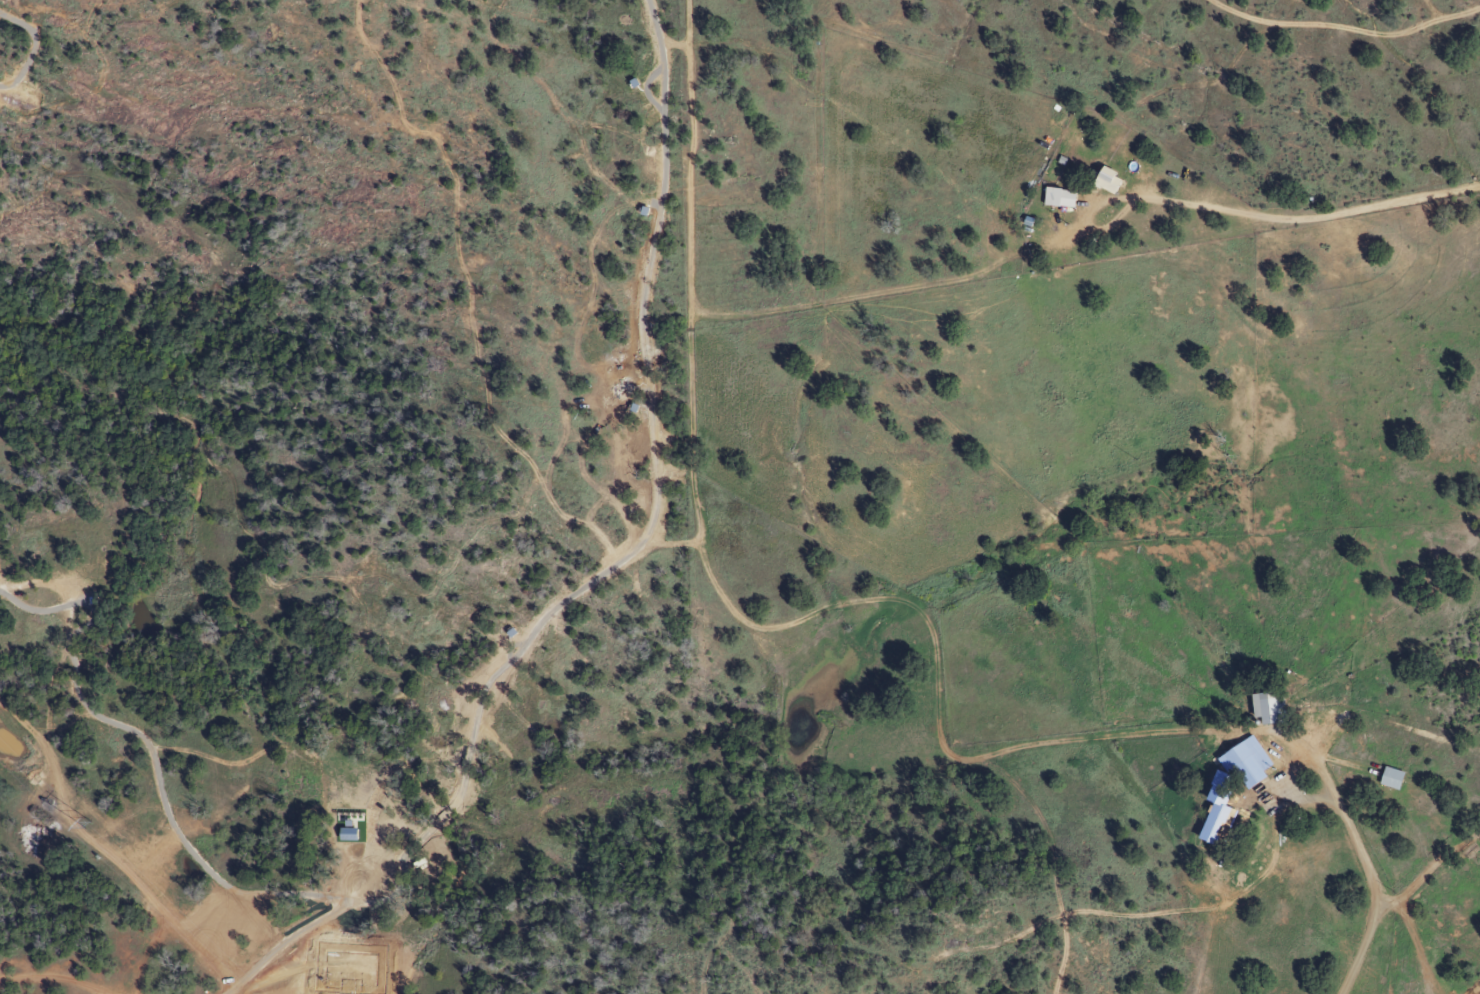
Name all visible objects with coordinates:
building: (1102, 180)
building: (1055, 198)
road: (1305, 220)
building: (1261, 709)
building: (1242, 763)
building: (1386, 779)
building: (1213, 813)
power tower: (87, 824)
building: (1467, 851)

